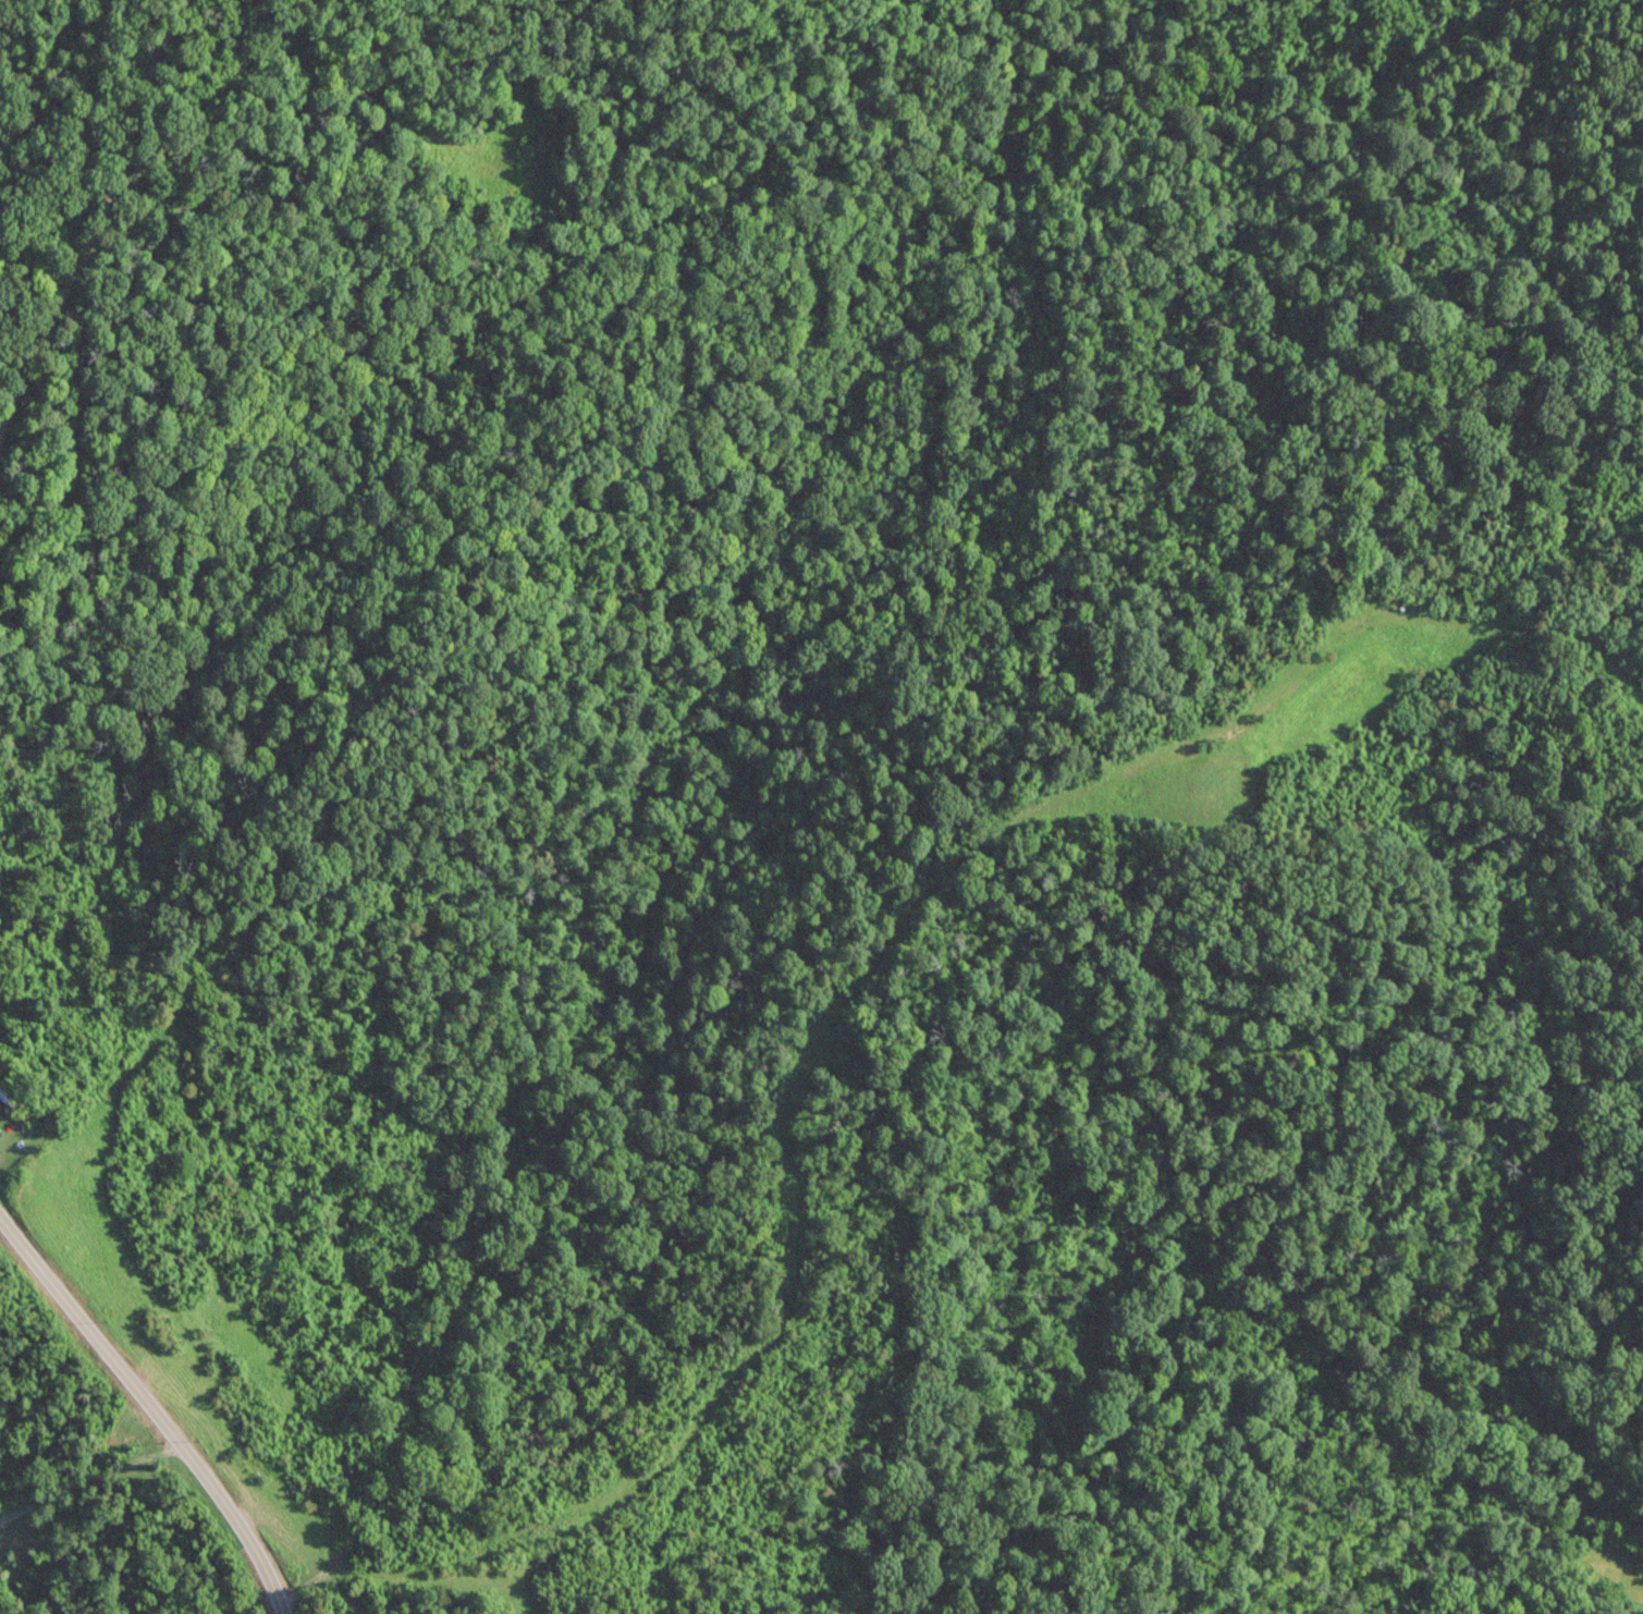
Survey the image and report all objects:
building: (198, 1238)
road: (148, 1406)
road: (87, 1478)

